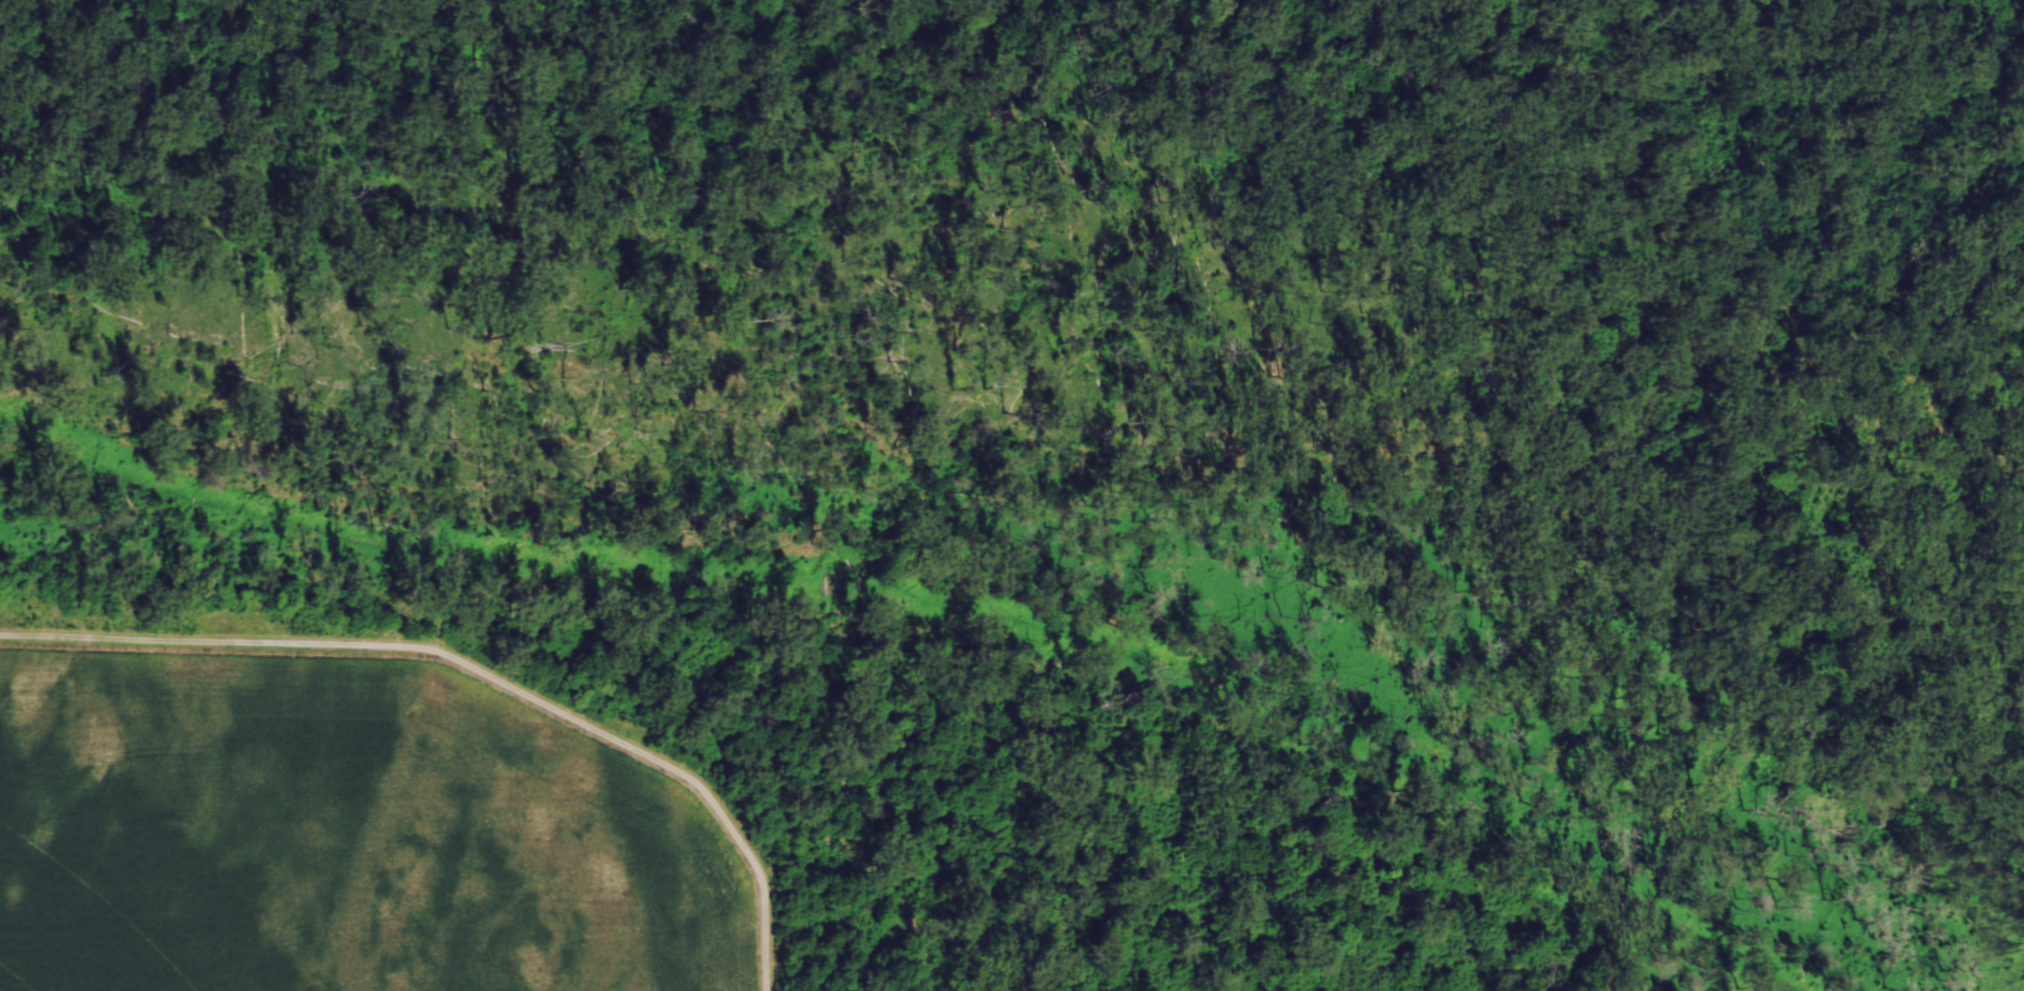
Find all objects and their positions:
road: (164, 637)
road: (621, 743)
crop: (337, 835)

